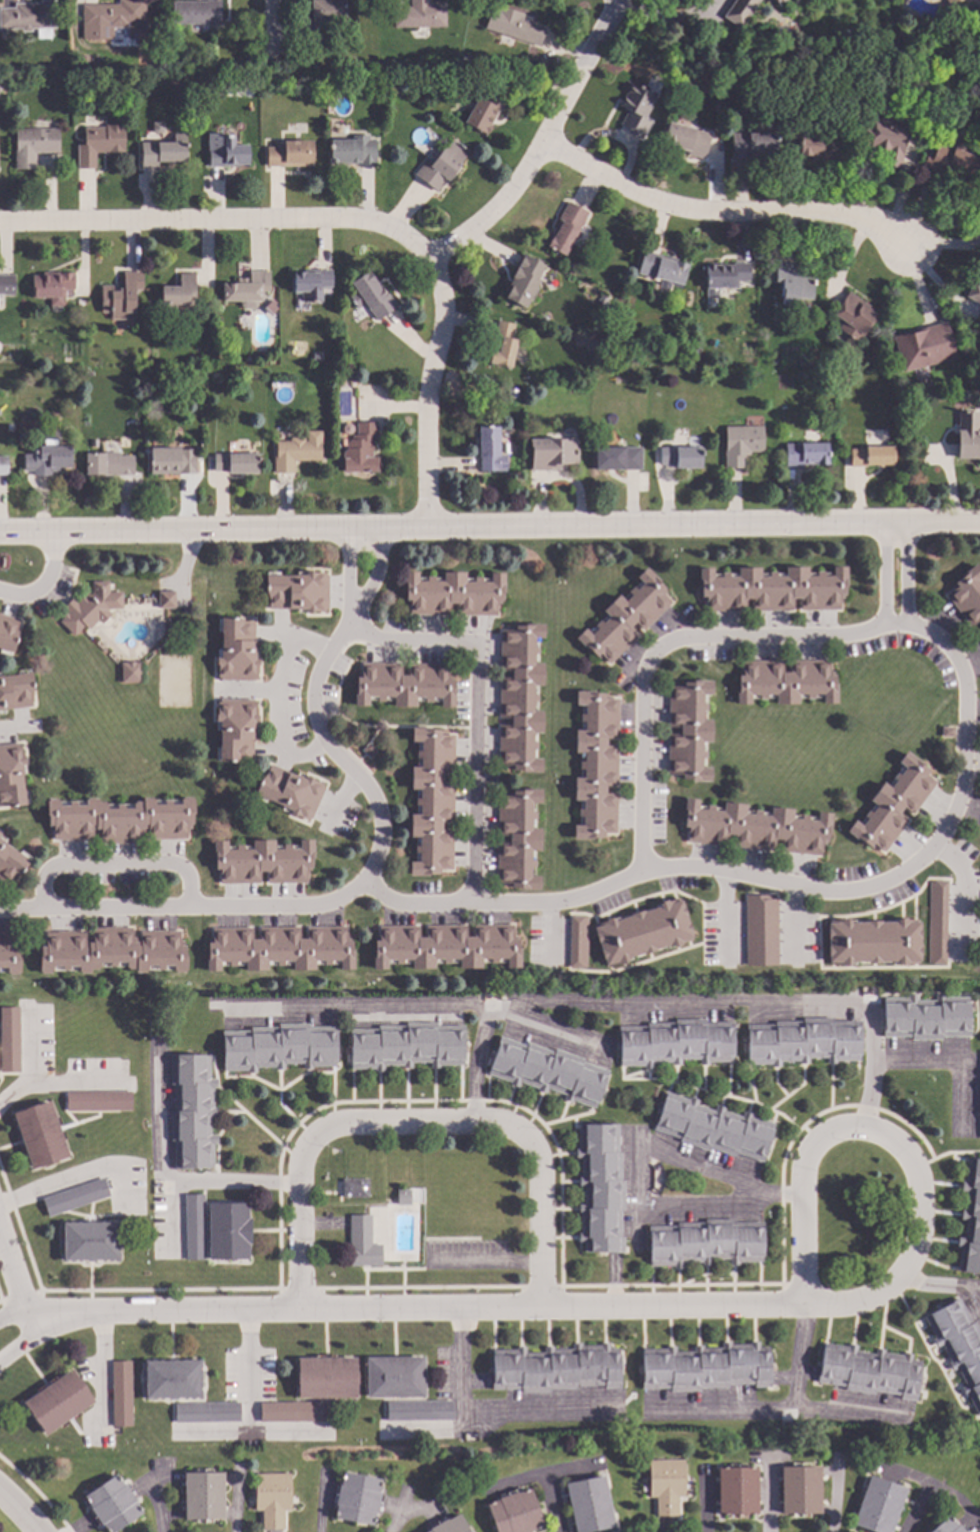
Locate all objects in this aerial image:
building: (949, 1)
building: (779, 2)
building: (738, 11)
building: (195, 13)
building: (419, 14)
building: (29, 17)
building: (112, 19)
building: (322, 19)
road: (665, 20)
building: (512, 25)
road: (269, 33)
building: (221, 43)
building: (465, 58)
building: (293, 59)
building: (87, 61)
building: (870, 82)
building: (484, 110)
building: (635, 110)
building: (157, 128)
building: (685, 139)
building: (882, 140)
road: (542, 143)
building: (98, 144)
building: (752, 144)
building: (33, 145)
building: (820, 147)
building: (352, 150)
building: (225, 151)
building: (162, 152)
building: (288, 154)
building: (951, 161)
building: (441, 165)
road: (727, 215)
road: (357, 225)
building: (565, 228)
building: (660, 267)
building: (725, 275)
building: (523, 280)
building: (310, 283)
building: (791, 284)
building: (6, 285)
building: (52, 286)
building: (246, 290)
building: (974, 292)
building: (177, 293)
building: (120, 297)
building: (369, 297)
building: (272, 302)
building: (852, 316)
building: (502, 344)
building: (923, 347)
building: (511, 393)
building: (899, 408)
building: (967, 435)
building: (19, 436)
building: (740, 444)
building: (489, 449)
building: (360, 450)
building: (296, 451)
building: (552, 453)
building: (804, 454)
building: (871, 456)
building: (680, 457)
building: (49, 458)
building: (615, 458)
building: (171, 461)
building: (234, 463)
building: (107, 464)
building: (2, 466)
road: (490, 526)
road: (44, 581)
building: (771, 589)
building: (298, 592)
building: (452, 593)
building: (967, 594)
building: (165, 600)
building: (89, 608)
building: (624, 618)
building: (7, 633)
building: (978, 633)
road: (667, 650)
building: (236, 651)
building: (130, 672)
building: (173, 681)
building: (785, 681)
building: (403, 684)
building: (15, 691)
building: (519, 697)
road: (277, 706)
road: (475, 708)
road: (312, 712)
building: (235, 729)
building: (688, 730)
road: (16, 732)
building: (946, 732)
building: (368, 750)
building: (595, 765)
building: (11, 776)
building: (289, 792)
building: (432, 801)
building: (893, 804)
building: (119, 820)
building: (755, 827)
building: (517, 839)
building: (10, 862)
building: (262, 862)
road: (118, 864)
road: (651, 872)
road: (959, 895)
road: (725, 915)
road: (790, 921)
building: (936, 922)
building: (760, 930)
building: (642, 932)
building: (577, 942)
building: (872, 942)
building: (445, 946)
building: (278, 948)
building: (111, 951)
building: (8, 954)
road: (606, 1004)
building: (925, 1017)
road: (544, 1027)
building: (9, 1039)
building: (802, 1041)
building: (674, 1042)
road: (25, 1045)
building: (407, 1045)
building: (278, 1047)
road: (946, 1061)
road: (474, 1066)
building: (547, 1071)
road: (460, 1082)
road: (59, 1084)
road: (351, 1085)
road: (487, 1087)
road: (829, 1087)
road: (705, 1092)
road: (509, 1095)
building: (979, 1095)
road: (433, 1096)
road: (405, 1097)
road: (332, 1099)
road: (378, 1099)
building: (97, 1101)
road: (418, 1101)
road: (282, 1108)
building: (191, 1110)
road: (246, 1114)
road: (532, 1115)
road: (510, 1118)
road: (568, 1118)
road: (415, 1126)
building: (713, 1128)
road: (798, 1130)
building: (39, 1134)
road: (810, 1135)
road: (895, 1144)
road: (10, 1146)
road: (946, 1152)
road: (553, 1154)
road: (79, 1177)
road: (169, 1181)
road: (568, 1182)
building: (354, 1188)
building: (599, 1188)
building: (75, 1197)
building: (403, 1197)
road: (556, 1209)
road: (639, 1213)
building: (970, 1220)
building: (193, 1227)
building: (227, 1231)
road: (20, 1234)
road: (556, 1238)
building: (89, 1241)
building: (704, 1241)
building: (362, 1243)
road: (13, 1283)
road: (671, 1286)
road: (938, 1286)
road: (541, 1287)
road: (418, 1288)
road: (297, 1289)
road: (159, 1290)
road: (19, 1295)
road: (972, 1301)
road: (414, 1311)
road: (13, 1318)
road: (19, 1347)
building: (958, 1347)
building: (555, 1368)
building: (704, 1368)
road: (102, 1369)
building: (868, 1371)
building: (394, 1377)
building: (325, 1378)
building: (171, 1379)
building: (120, 1394)
building: (57, 1402)
road: (248, 1402)
road: (779, 1409)
building: (418, 1410)
building: (291, 1411)
building: (206, 1412)
road: (480, 1413)
road: (847, 1413)
road: (283, 1432)
road: (542, 1475)
building: (665, 1485)
road: (923, 1486)
building: (799, 1489)
building: (736, 1491)
road: (35, 1494)
building: (202, 1496)
building: (271, 1498)
building: (356, 1498)
road: (953, 1498)
road: (236, 1503)
building: (112, 1504)
road: (549, 1504)
building: (588, 1504)
building: (877, 1505)
road: (406, 1506)
road: (19, 1513)
building: (514, 1513)
building: (449, 1525)
building: (945, 1526)

